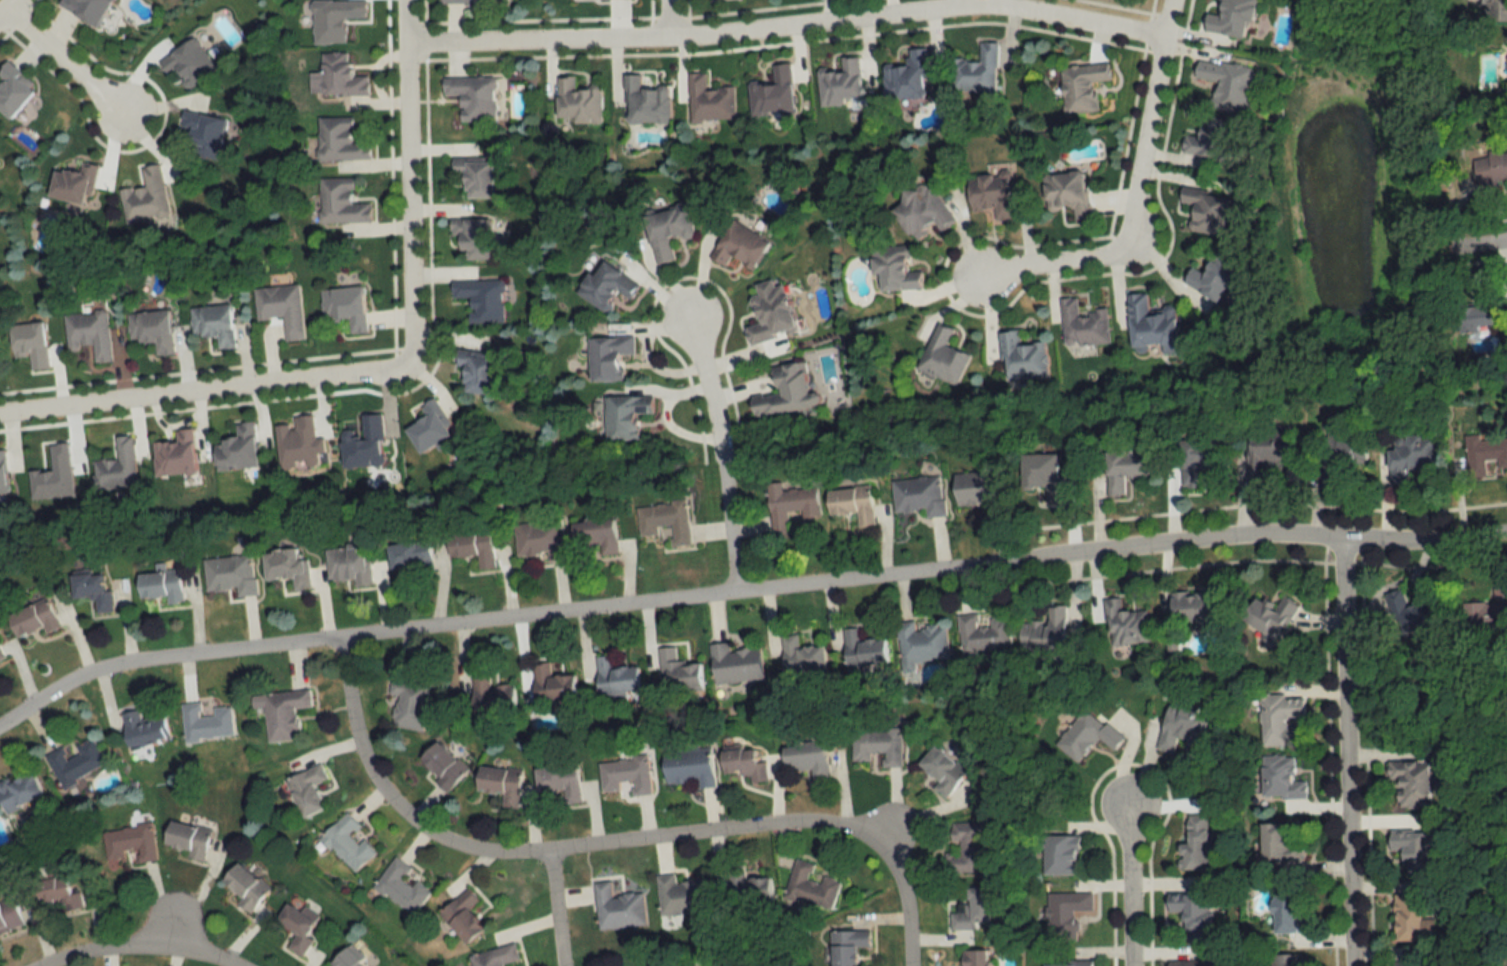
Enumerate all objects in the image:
building: (465, 2)
road: (7, 9)
building: (92, 9)
building: (1495, 9)
road: (669, 19)
building: (1230, 19)
road: (789, 26)
road: (71, 64)
building: (975, 72)
building: (341, 76)
building: (908, 78)
building: (839, 84)
building: (1226, 84)
building: (1082, 88)
building: (17, 90)
building: (773, 93)
building: (471, 97)
building: (708, 101)
building: (576, 102)
building: (644, 102)
building: (209, 132)
building: (1209, 138)
building: (343, 140)
building: (1489, 172)
building: (473, 178)
road: (413, 180)
building: (79, 184)
building: (1067, 192)
building: (991, 195)
building: (149, 197)
road: (1141, 201)
building: (345, 202)
building: (922, 210)
building: (1205, 212)
building: (666, 230)
building: (470, 237)
building: (738, 246)
road: (1469, 246)
building: (893, 267)
road: (1165, 272)
building: (1214, 278)
building: (604, 285)
building: (480, 299)
building: (350, 307)
building: (285, 308)
building: (1479, 311)
building: (769, 313)
building: (218, 324)
building: (1150, 324)
building: (1082, 325)
building: (156, 330)
building: (93, 333)
building: (35, 344)
building: (942, 356)
building: (607, 357)
building: (1021, 358)
building: (484, 373)
road: (207, 390)
building: (785, 392)
building: (624, 416)
building: (436, 427)
building: (303, 445)
road: (717, 448)
building: (1268, 448)
building: (243, 449)
building: (1340, 453)
building: (1485, 454)
building: (181, 455)
building: (1411, 457)
building: (1198, 458)
building: (121, 467)
building: (1124, 469)
building: (5, 472)
building: (1041, 475)
building: (979, 489)
building: (918, 495)
building: (851, 504)
building: (789, 506)
building: (664, 521)
building: (601, 535)
building: (543, 539)
building: (478, 548)
building: (413, 556)
building: (351, 564)
building: (290, 568)
building: (233, 575)
building: (165, 586)
building: (96, 590)
road: (745, 594)
building: (1192, 606)
building: (1267, 615)
building: (1488, 615)
building: (1413, 616)
building: (39, 618)
building: (1124, 623)
building: (1044, 630)
building: (983, 632)
building: (920, 644)
building: (862, 649)
building: (2, 651)
building: (801, 656)
building: (733, 664)
building: (678, 672)
building: (614, 677)
building: (551, 687)
building: (489, 699)
building: (408, 702)
building: (285, 713)
building: (1278, 719)
building: (209, 723)
building: (1181, 726)
building: (148, 729)
building: (1088, 735)
building: (876, 746)
road: (1345, 753)
building: (805, 759)
building: (78, 762)
building: (738, 762)
building: (439, 766)
building: (688, 766)
building: (941, 770)
building: (624, 774)
building: (1280, 778)
building: (558, 781)
building: (1410, 782)
building: (499, 784)
building: (305, 790)
building: (22, 792)
building: (193, 839)
building: (1196, 841)
building: (132, 844)
building: (346, 844)
road: (606, 844)
building: (1277, 847)
building: (965, 848)
building: (1414, 851)
building: (1059, 855)
road: (1130, 881)
building: (242, 886)
building: (810, 886)
building: (400, 887)
building: (749, 891)
building: (65, 894)
building: (680, 896)
building: (616, 908)
road: (554, 909)
building: (972, 909)
building: (1284, 912)
building: (1064, 914)
building: (1192, 914)
building: (11, 916)
building: (461, 916)
building: (1410, 919)
building: (295, 926)
building: (845, 946)
road: (139, 947)
building: (493, 957)
building: (973, 957)
building: (344, 959)
building: (1286, 959)
building: (1191, 963)
building: (1068, 964)

